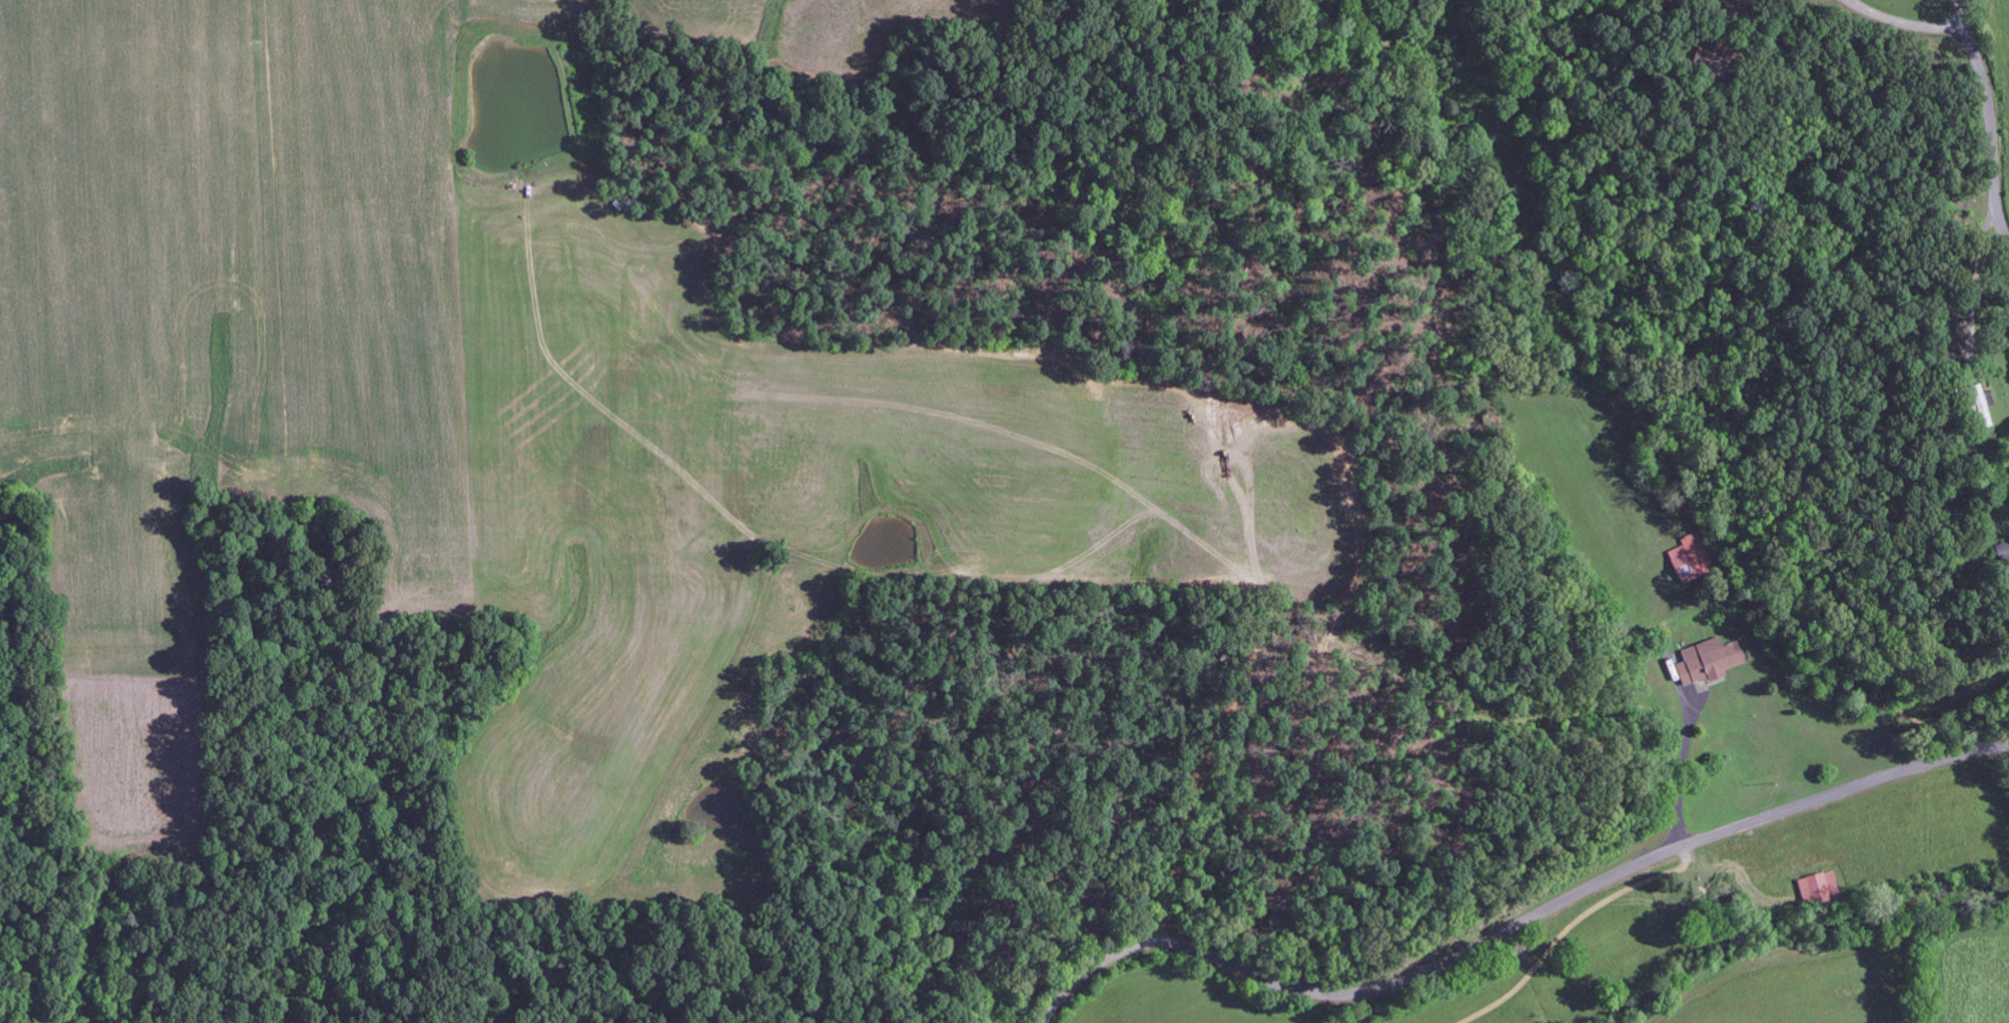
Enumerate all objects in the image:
building: (1708, 62)
road: (1989, 118)
building: (1950, 356)
building: (1983, 407)
building: (2001, 551)
building: (1711, 662)
road: (1515, 925)

